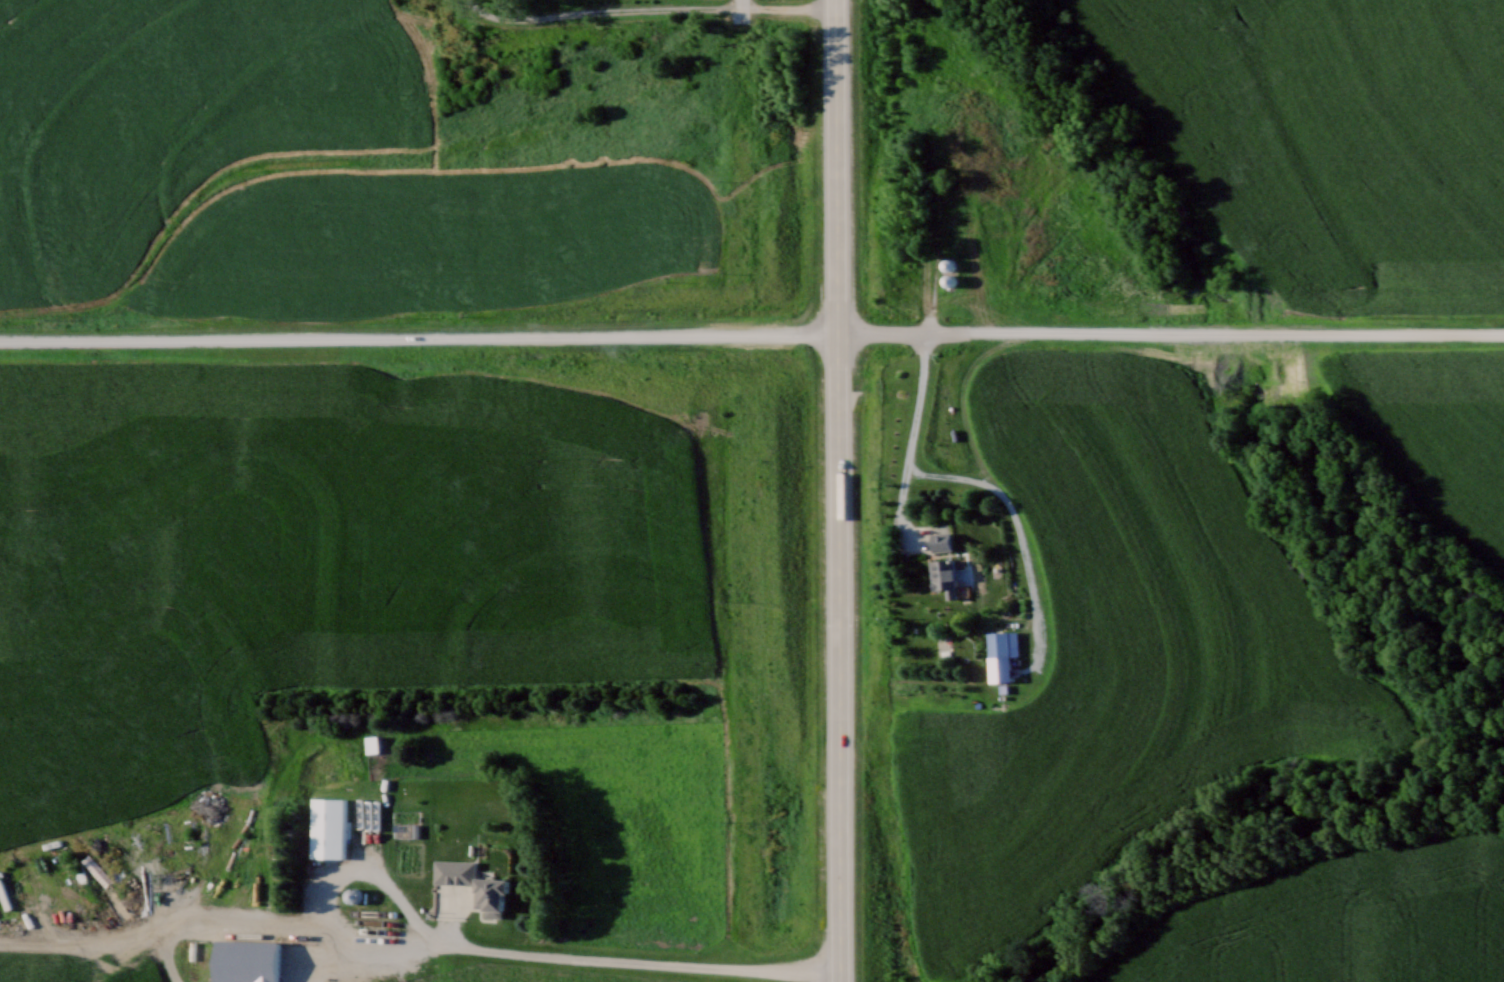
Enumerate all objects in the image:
road: (740, 4)
road: (788, 7)
road: (602, 13)
road: (836, 165)
building: (947, 266)
road: (1171, 332)
road: (419, 337)
road: (910, 438)
building: (940, 541)
building: (943, 576)
building: (997, 643)
road: (838, 656)
building: (327, 827)
building: (93, 871)
building: (489, 896)
road: (162, 924)
road: (395, 945)
road: (549, 956)

